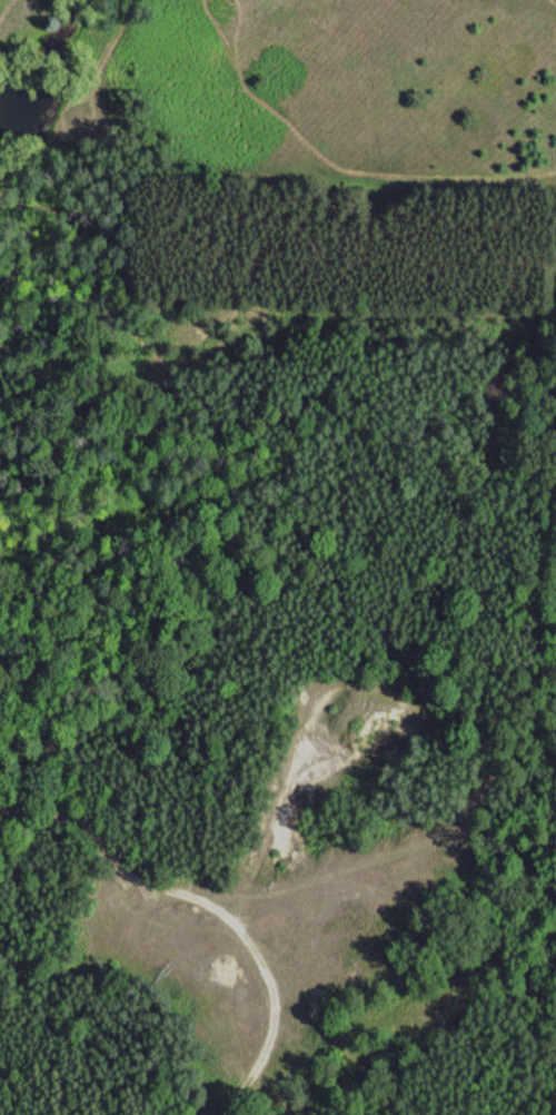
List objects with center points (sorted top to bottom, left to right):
road: (250, 1016)

